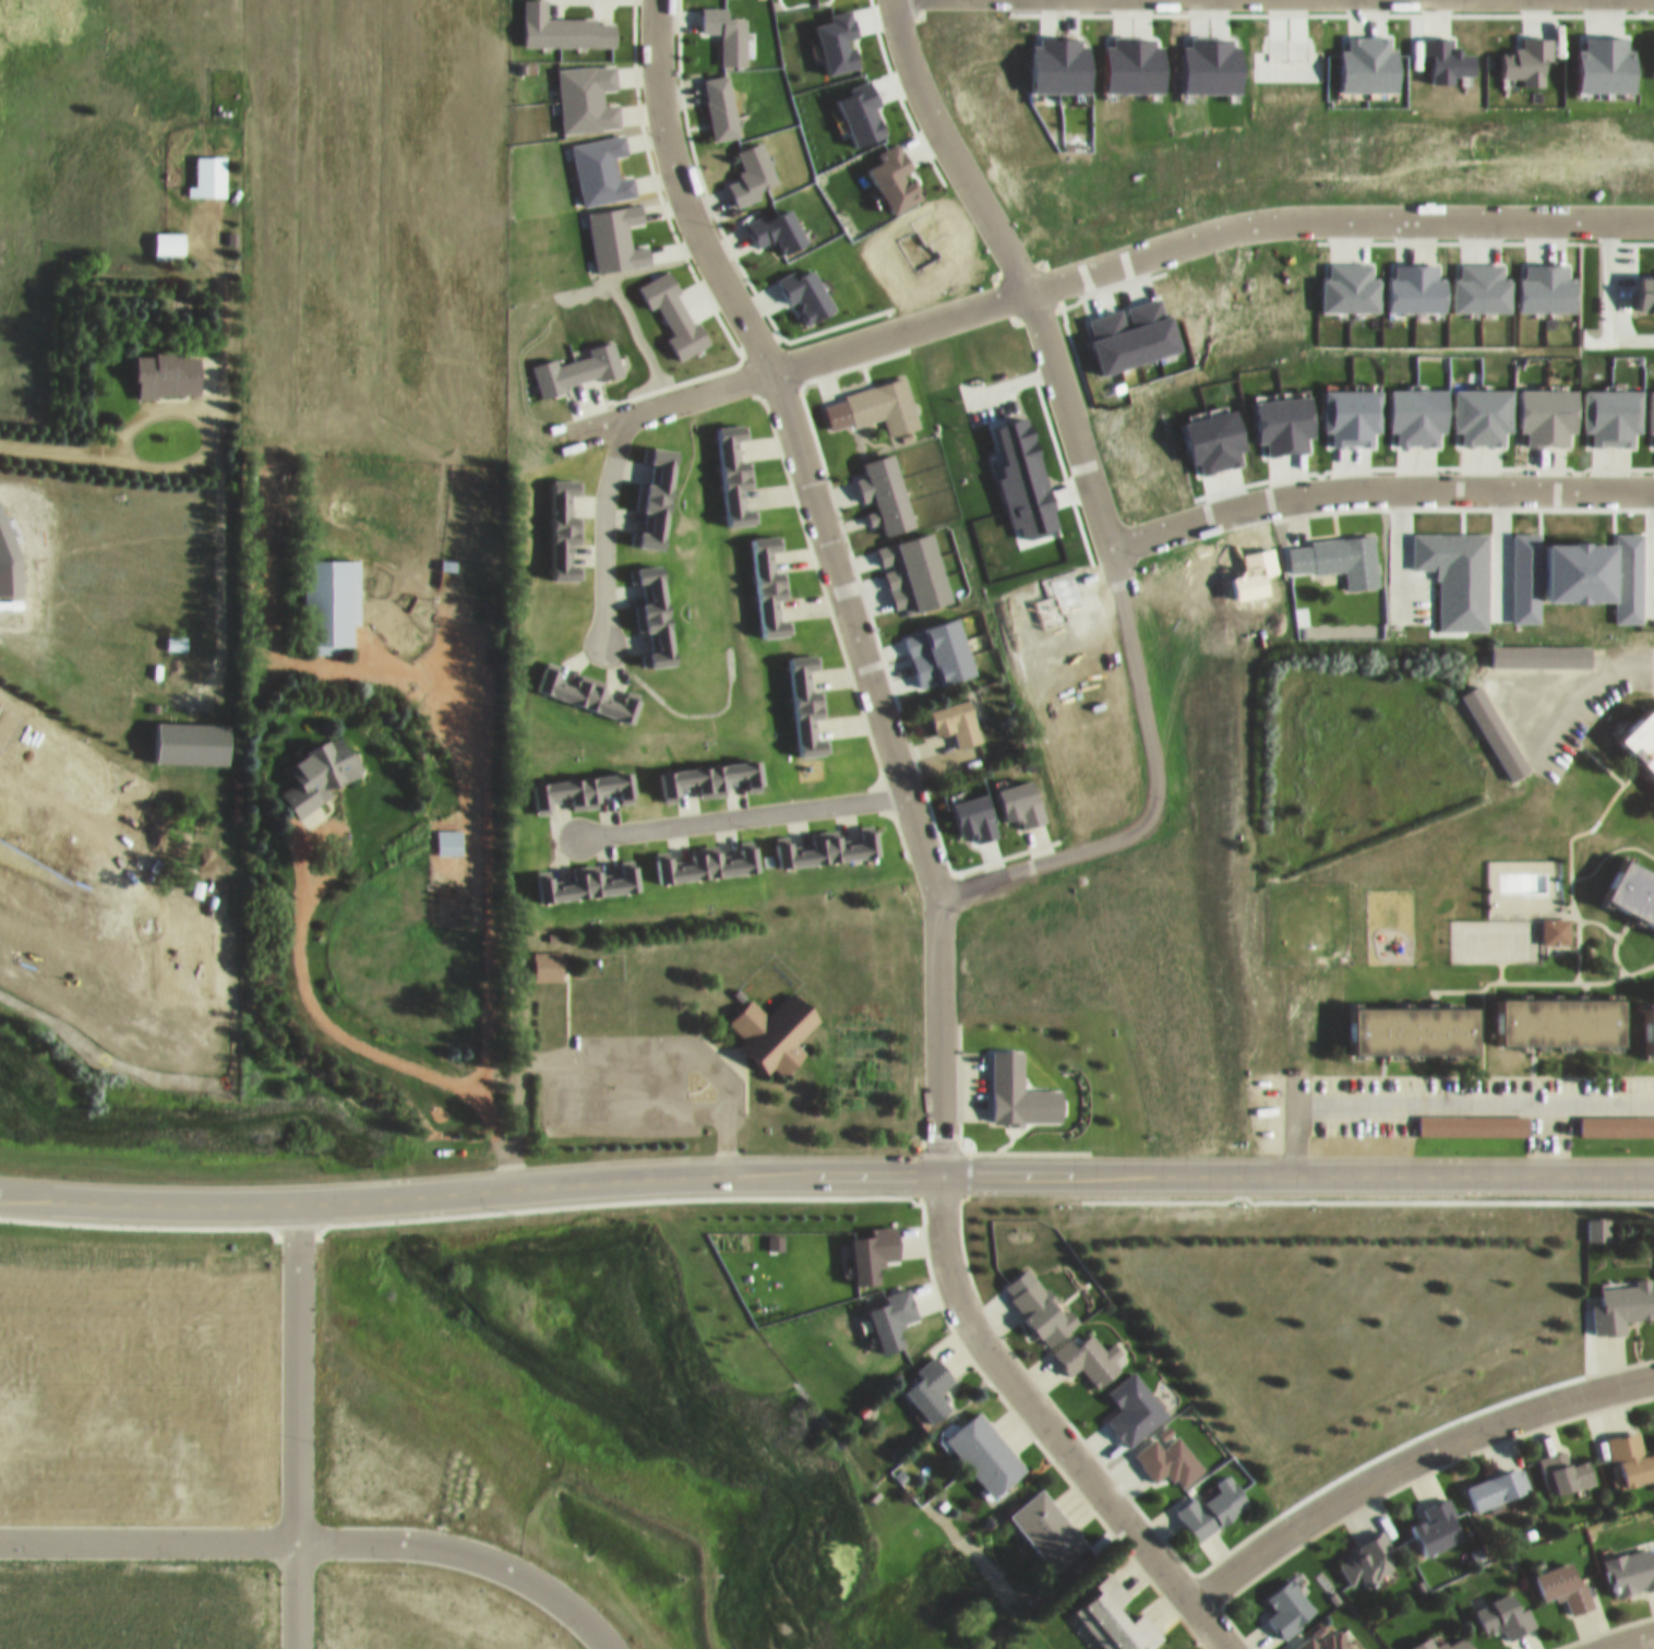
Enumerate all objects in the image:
road: (897, 3)
building: (753, 156)
building: (209, 167)
road: (683, 188)
building: (169, 236)
road: (1015, 263)
road: (1103, 265)
building: (169, 366)
building: (546, 368)
road: (216, 383)
building: (884, 396)
road: (111, 439)
building: (734, 466)
building: (656, 485)
road: (1377, 488)
road: (603, 514)
building: (563, 519)
road: (1498, 550)
building: (1347, 551)
road: (1400, 552)
building: (768, 578)
building: (329, 595)
building: (657, 607)
building: (176, 633)
building: (1539, 646)
road: (1578, 678)
building: (588, 685)
building: (805, 696)
building: (957, 714)
building: (1494, 724)
building: (1643, 730)
building: (191, 733)
road: (896, 756)
building: (321, 765)
building: (711, 769)
building: (582, 781)
road: (1152, 786)
road: (742, 805)
building: (7, 813)
road: (333, 824)
building: (448, 833)
building: (828, 840)
building: (708, 856)
building: (590, 876)
building: (1633, 883)
road: (489, 907)
building: (1557, 922)
building: (548, 956)
building: (1567, 1014)
building: (1650, 1019)
building: (1419, 1023)
road: (341, 1027)
building: (770, 1028)
building: (1019, 1085)
road: (1433, 1090)
road: (741, 1100)
building: (1473, 1116)
building: (1590, 1118)
road: (1295, 1168)
road: (469, 1197)
building: (1597, 1221)
building: (1039, 1298)
building: (1623, 1298)
building: (1090, 1349)
building: (931, 1377)
road: (1053, 1423)
road: (296, 1427)
building: (986, 1443)
building: (1632, 1447)
road: (1407, 1448)
building: (1170, 1449)
building: (1566, 1461)
building: (1498, 1478)
building: (1214, 1497)
building: (1438, 1516)
building: (1048, 1519)
road: (147, 1537)
building: (1368, 1551)
building: (1630, 1561)
building: (1563, 1575)
building: (1289, 1599)
building: (1506, 1605)
building: (1116, 1612)
road: (1616, 1635)
building: (1329, 1636)
building: (1446, 1638)

